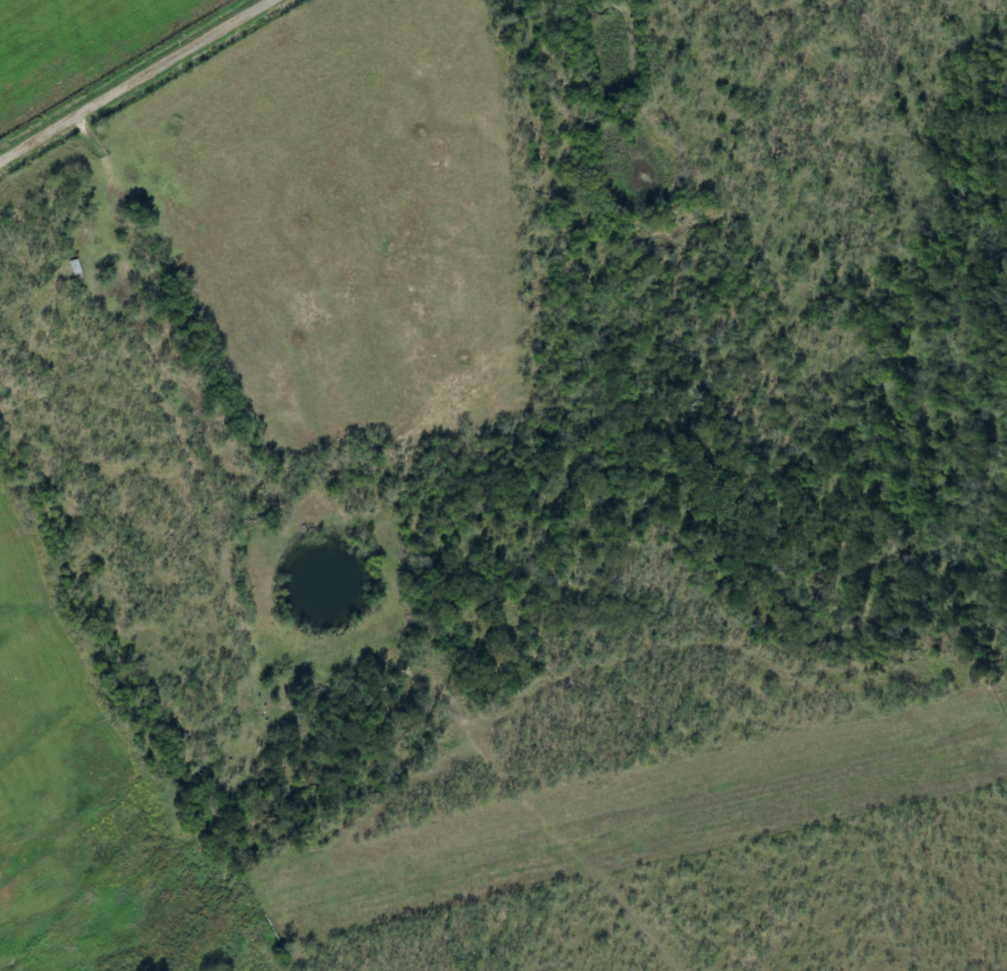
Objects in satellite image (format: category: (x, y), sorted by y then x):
road: (141, 84)

